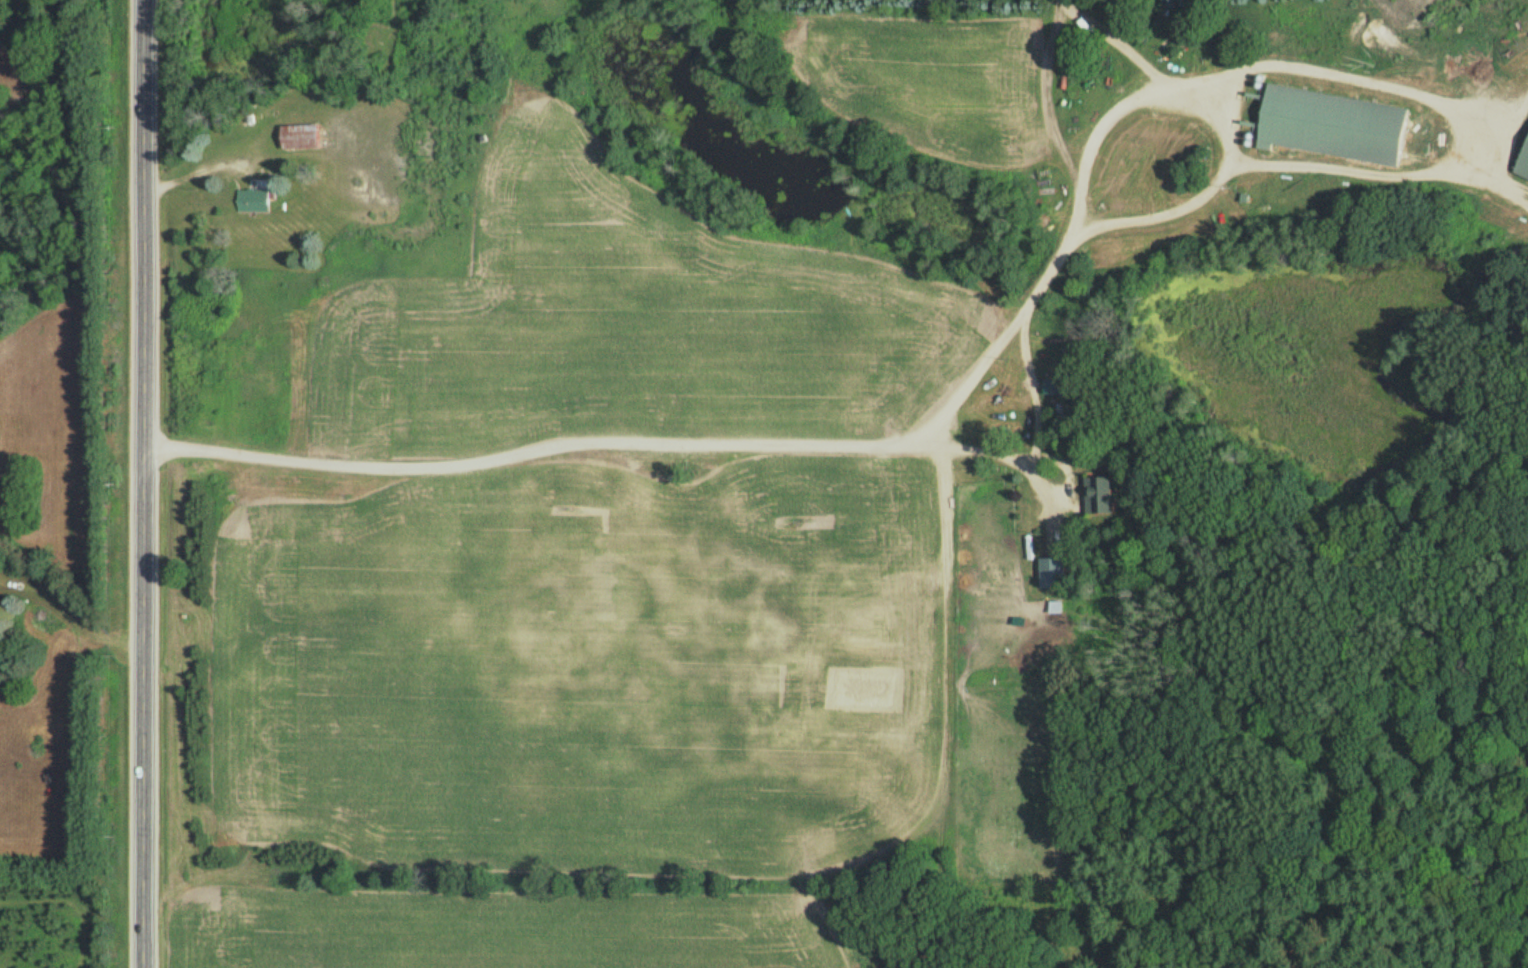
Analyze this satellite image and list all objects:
quarry: (1434, 15)
building: (1337, 124)
building: (303, 136)
building: (253, 200)
building: (1064, 409)
road: (548, 441)
road: (143, 483)
building: (1054, 573)

